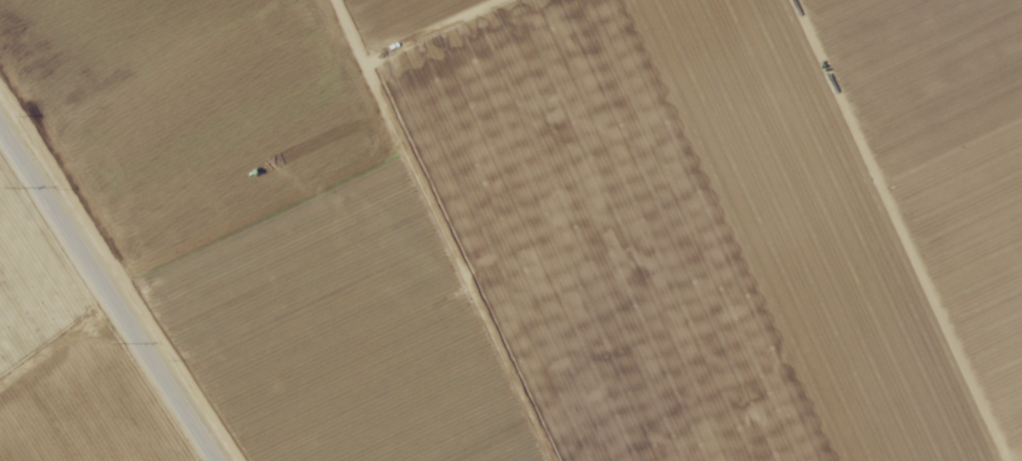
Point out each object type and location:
crop: (511, 230)
road: (107, 296)

